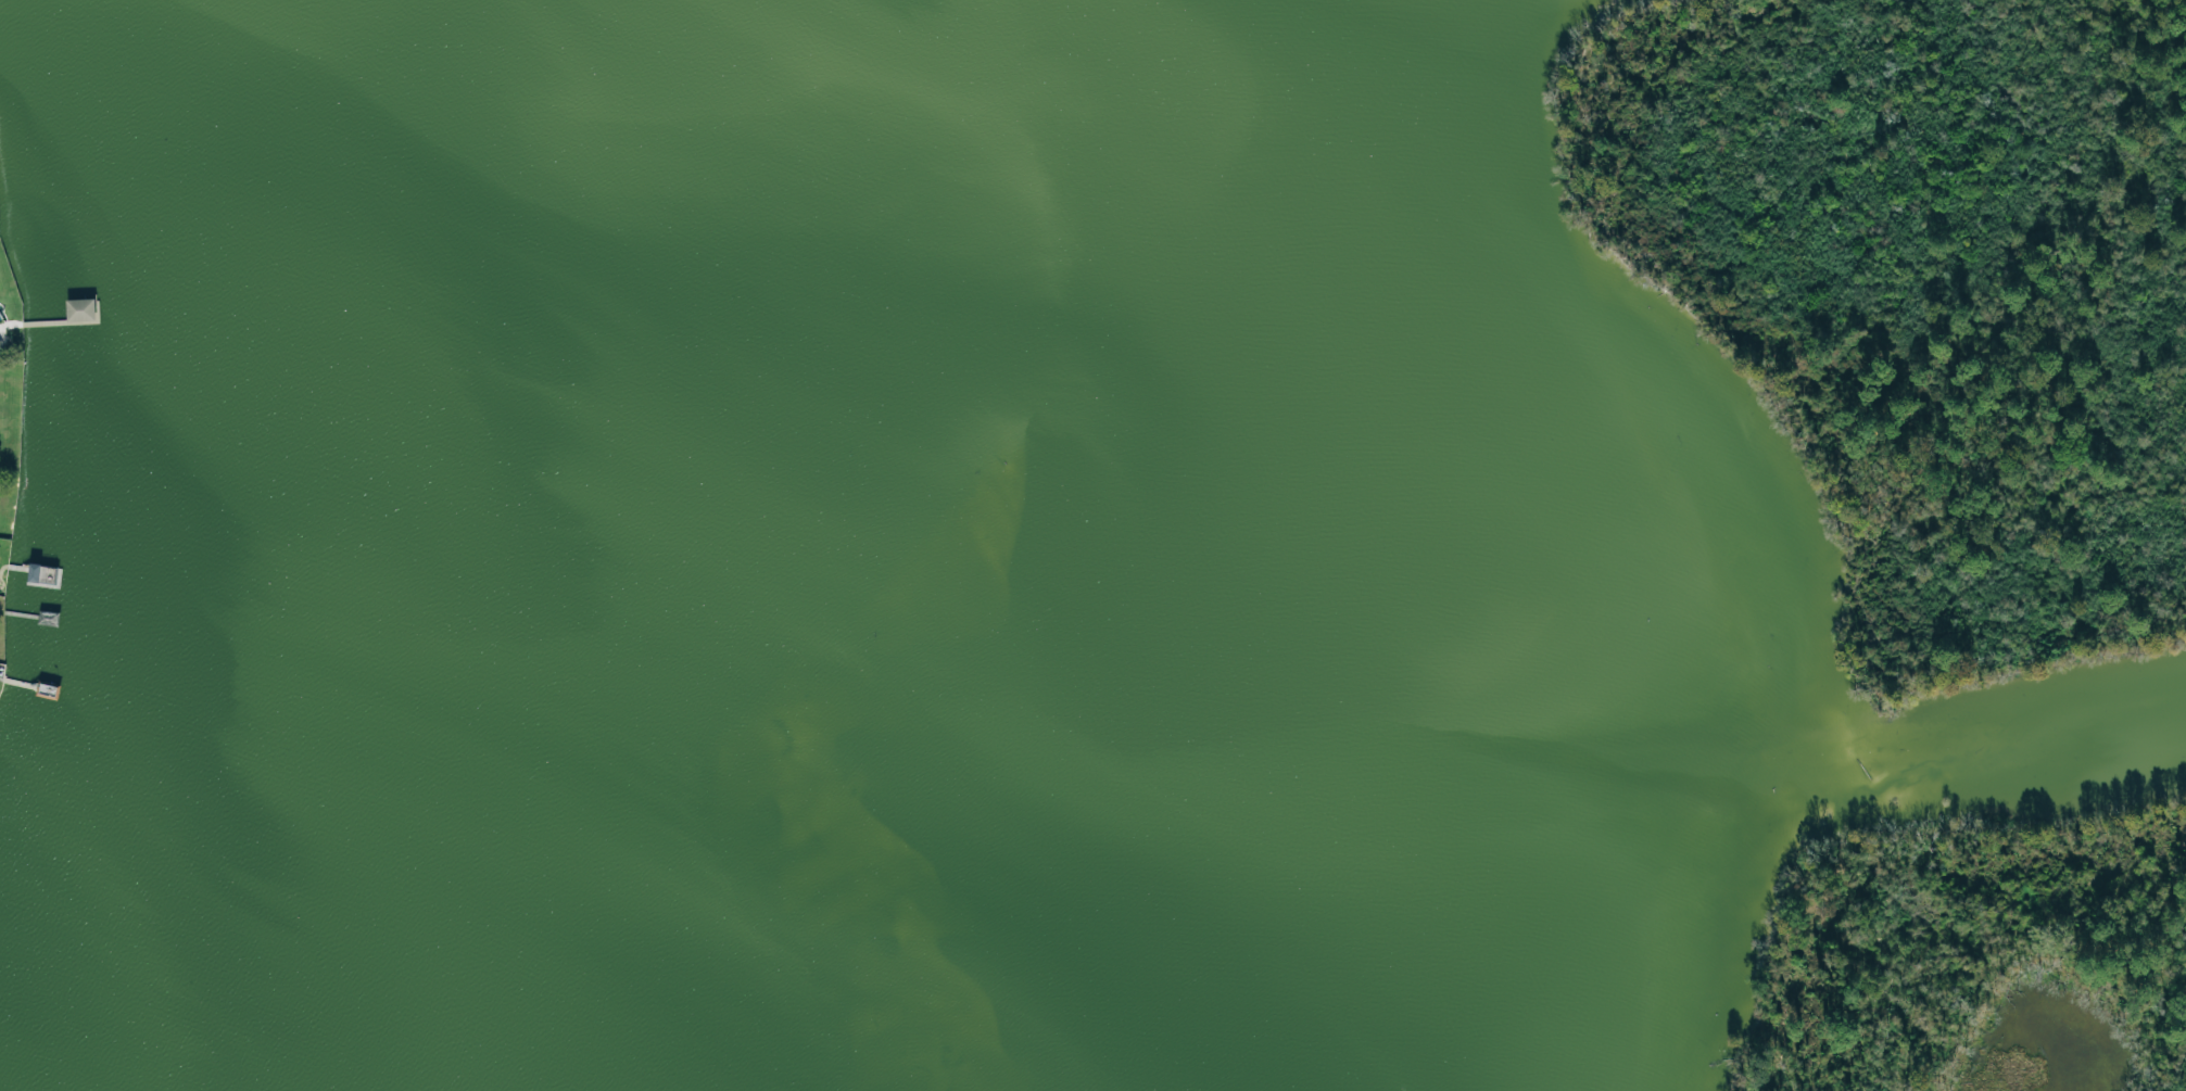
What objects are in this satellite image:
building: (85, 309)
river: (949, 533)

